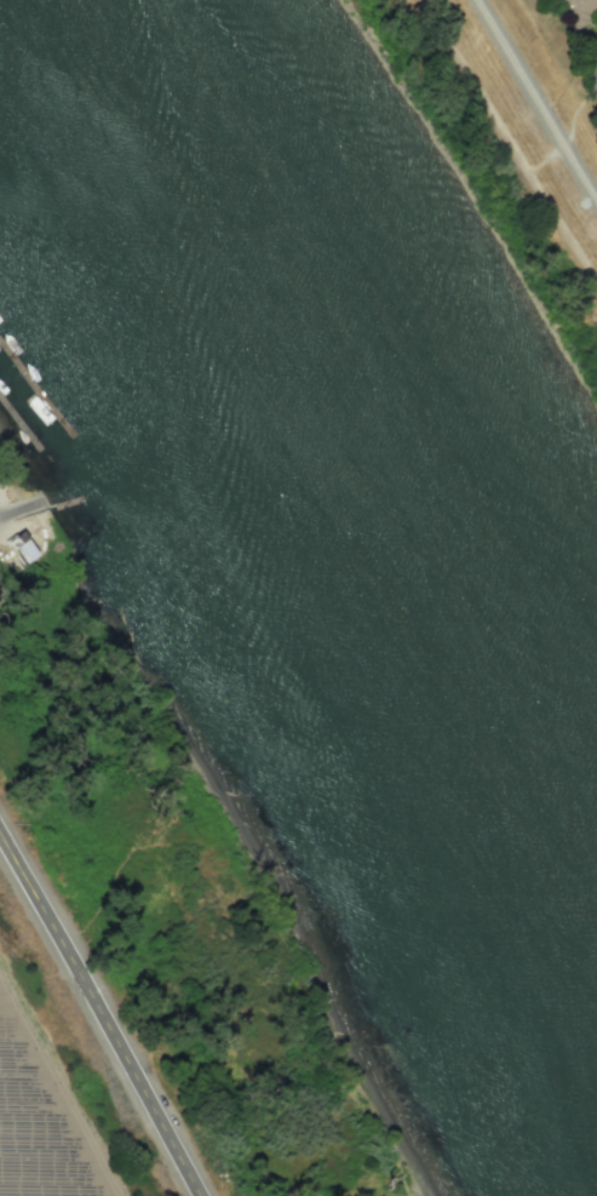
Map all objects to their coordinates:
building: (578, 11)
road: (536, 102)
pier: (36, 385)
pier: (21, 420)
river: (318, 485)
road: (5, 510)
road: (101, 1013)
crop: (18, 1161)

